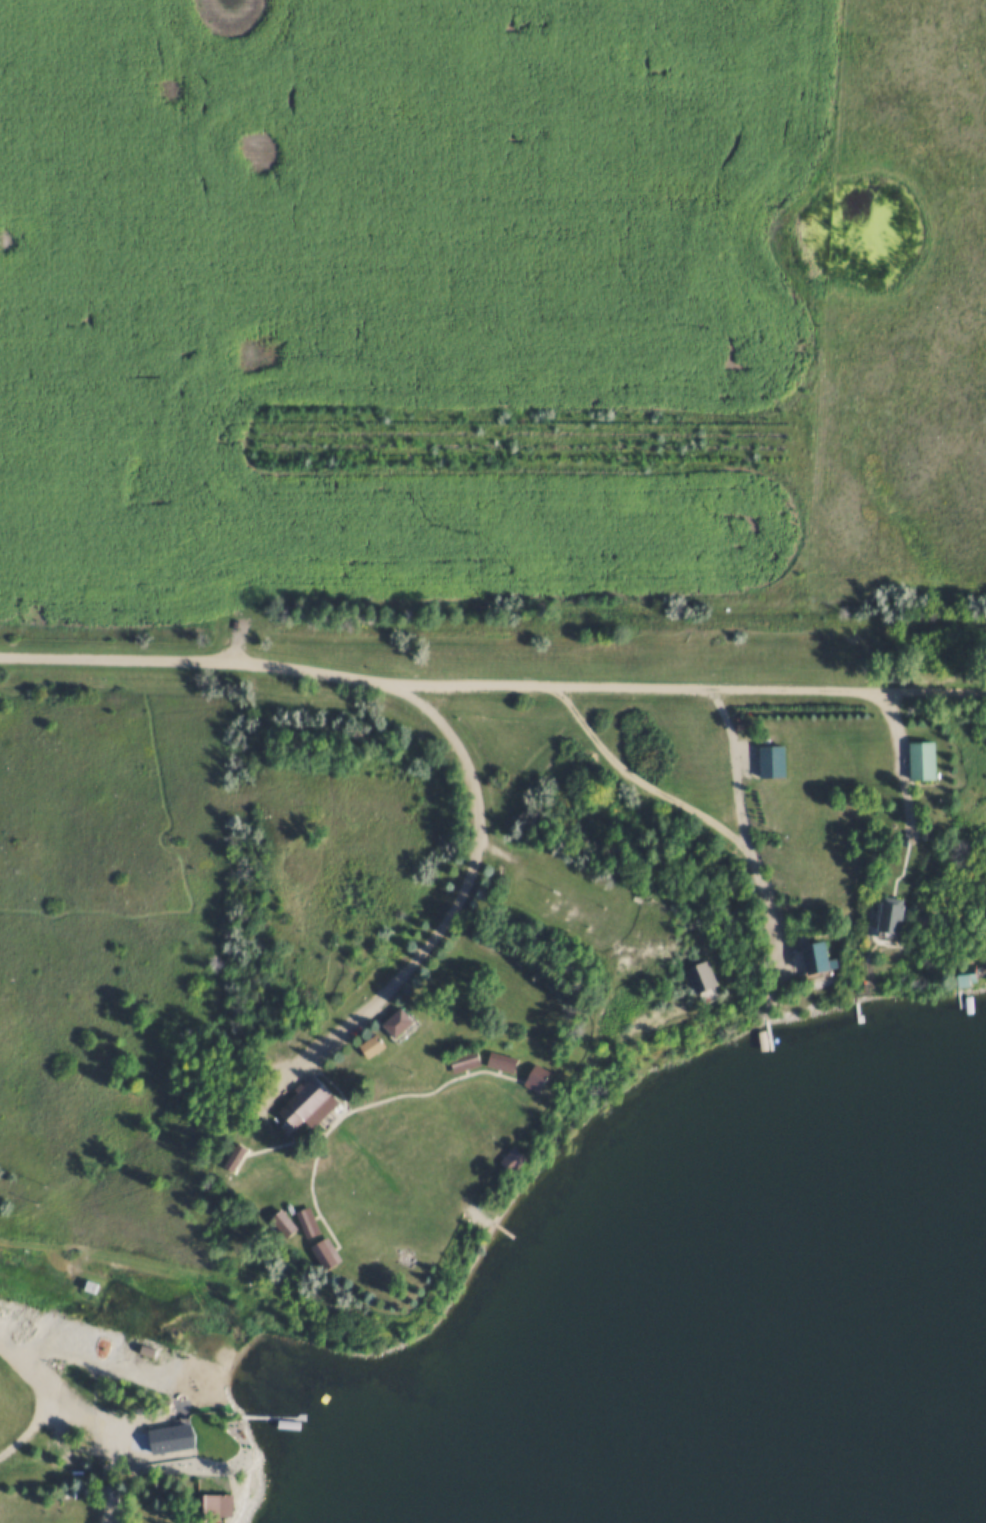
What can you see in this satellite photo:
road: (595, 625)
road: (492, 684)
building: (928, 759)
building: (912, 760)
building: (762, 761)
road: (736, 764)
road: (895, 787)
road: (671, 800)
road: (458, 908)
building: (895, 915)
building: (878, 917)
building: (810, 956)
building: (691, 975)
building: (959, 978)
building: (702, 979)
building: (388, 1021)
building: (363, 1044)
building: (372, 1046)
building: (457, 1059)
building: (494, 1060)
building: (528, 1075)
building: (301, 1104)
building: (229, 1155)
building: (505, 1157)
building: (300, 1219)
building: (277, 1221)
building: (318, 1251)
building: (89, 1283)
building: (101, 1494)
building: (226, 1504)
building: (206, 1505)

